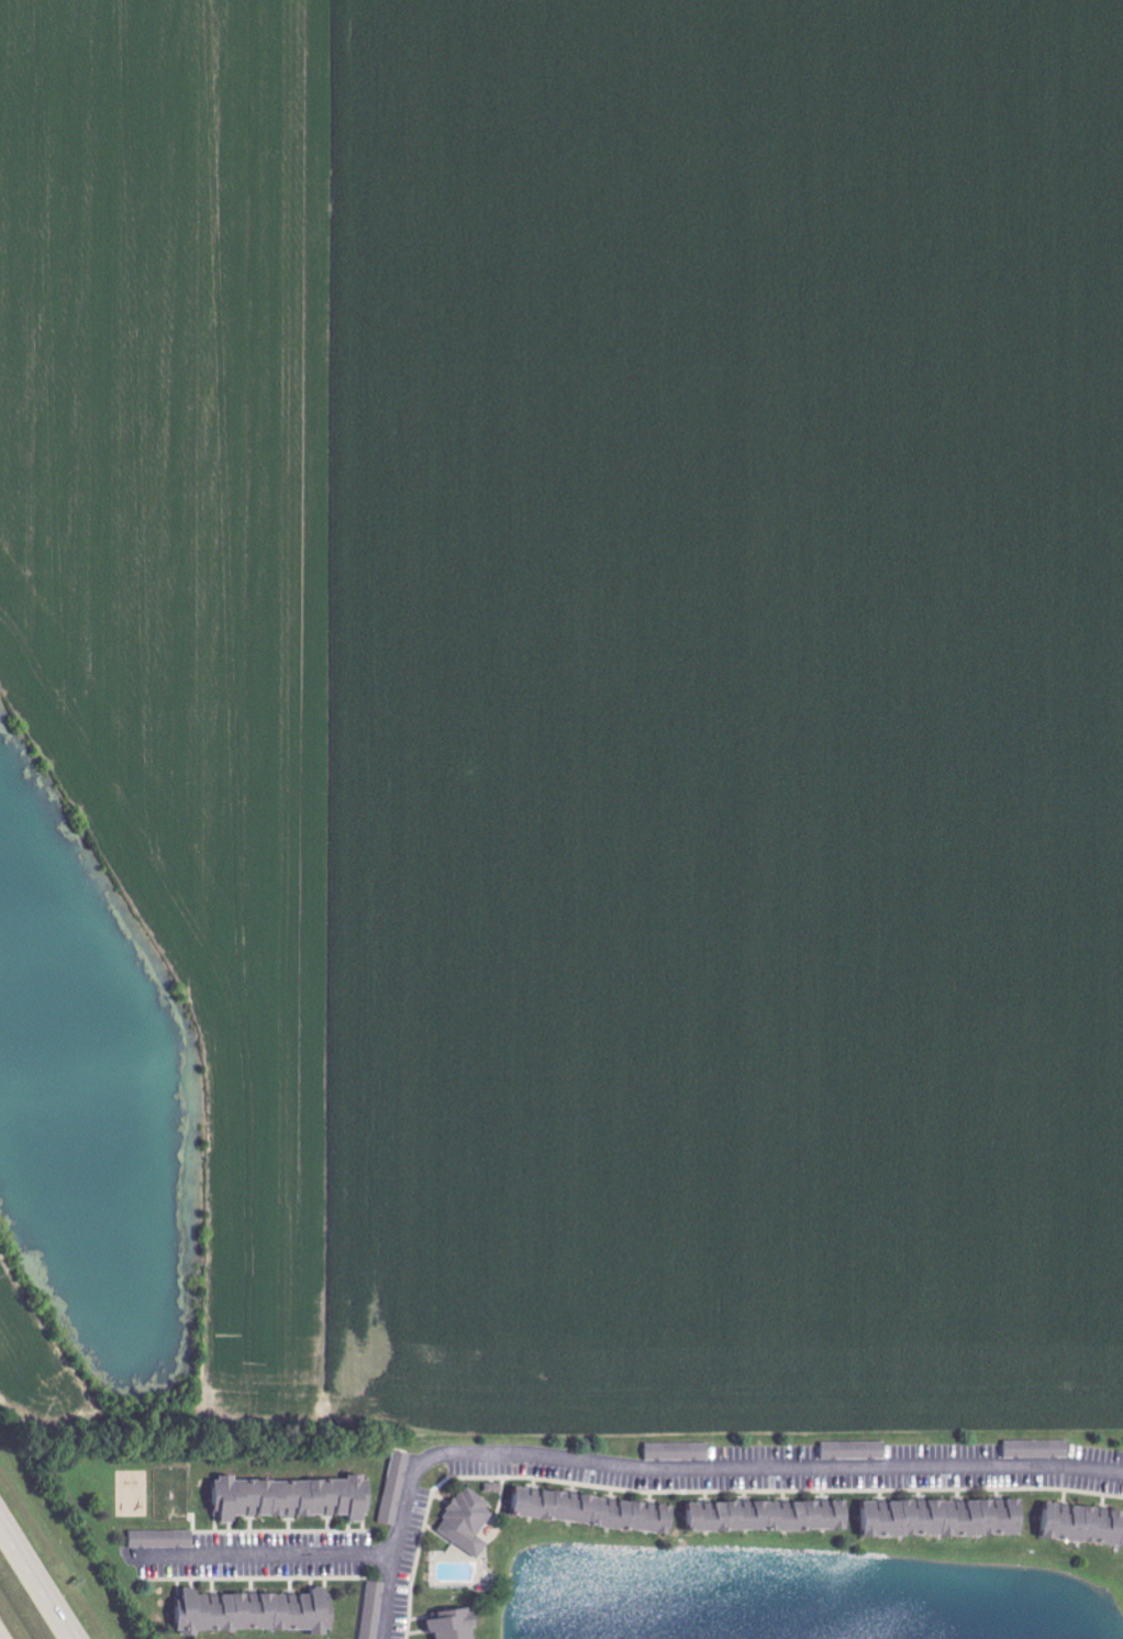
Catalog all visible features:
building: (1038, 1449)
building: (855, 1450)
building: (679, 1451)
road: (771, 1465)
building: (396, 1487)
building: (496, 1487)
building: (296, 1497)
building: (596, 1510)
building: (772, 1515)
building: (947, 1517)
building: (468, 1520)
building: (1083, 1526)
building: (164, 1538)
road: (397, 1551)
road: (266, 1559)
road: (36, 1580)
building: (374, 1609)
building: (259, 1612)
building: (455, 1625)
road: (1, 1637)

